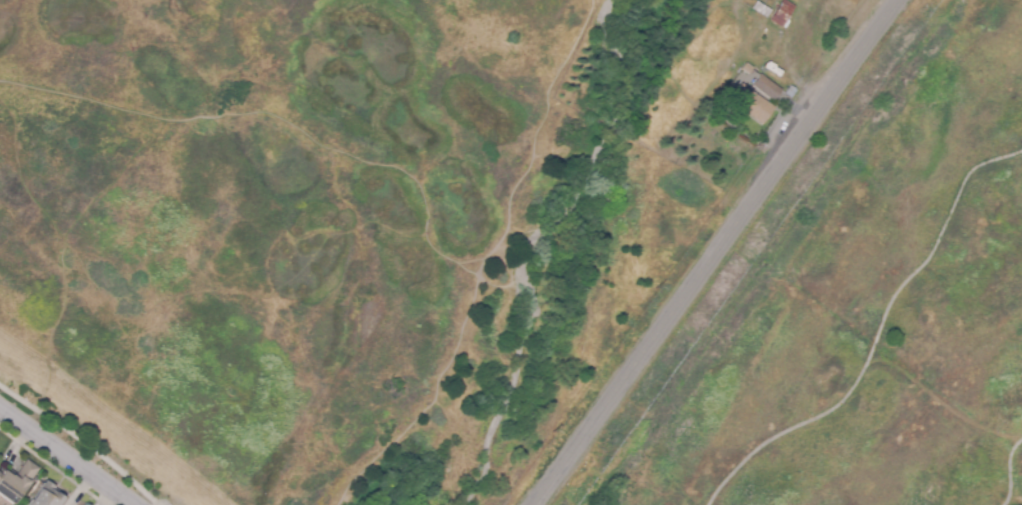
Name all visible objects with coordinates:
building: (782, 13)
building: (746, 68)
building: (766, 87)
building: (790, 91)
building: (751, 103)
building: (708, 109)
road: (714, 253)
park: (892, 322)
road: (877, 335)
road: (83, 441)
road: (66, 458)
road: (1011, 470)
building: (15, 481)
building: (47, 495)
road: (155, 503)
road: (161, 504)

